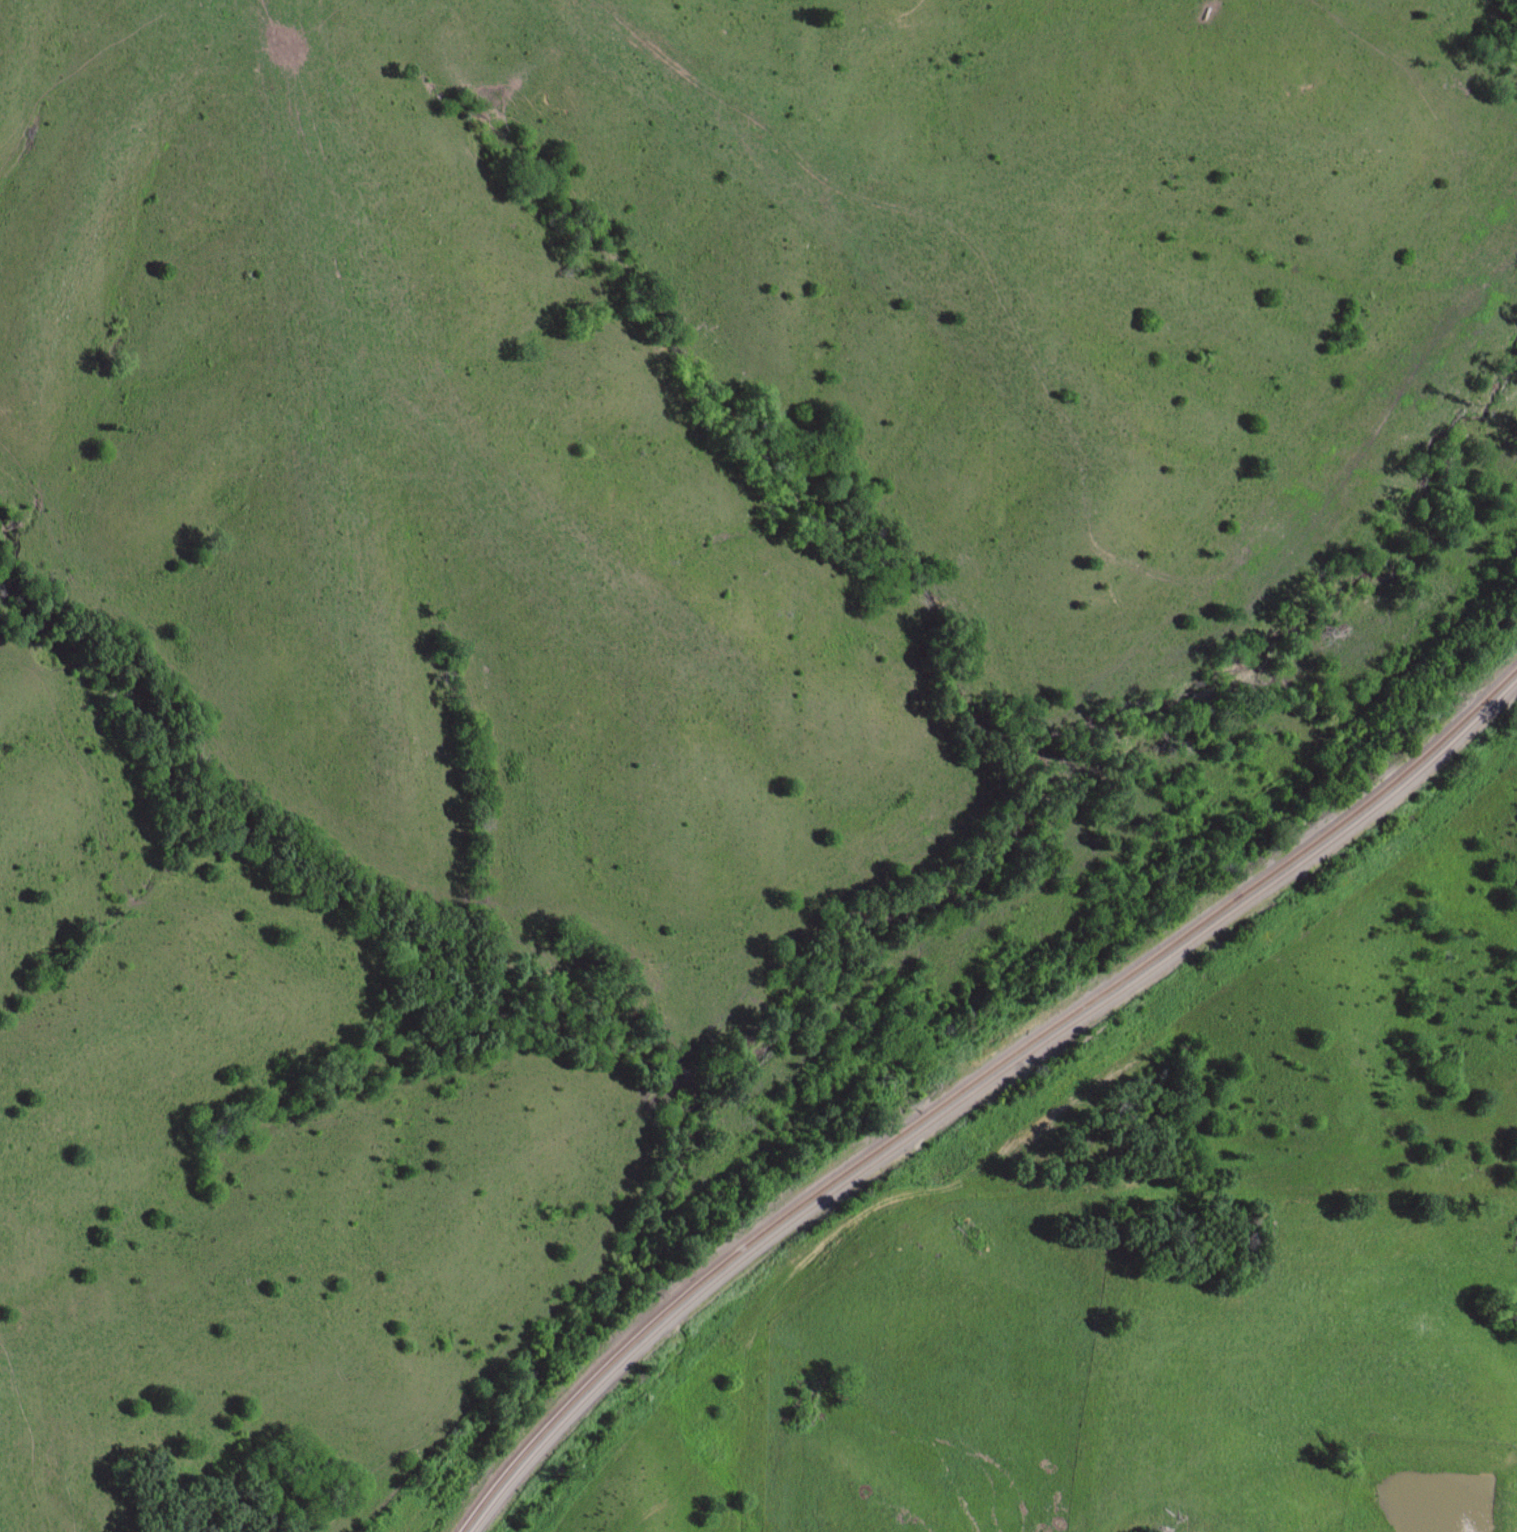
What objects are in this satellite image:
railway: (1159, 955)
railway: (1161, 966)
railway: (609, 1359)
railway: (618, 1365)

